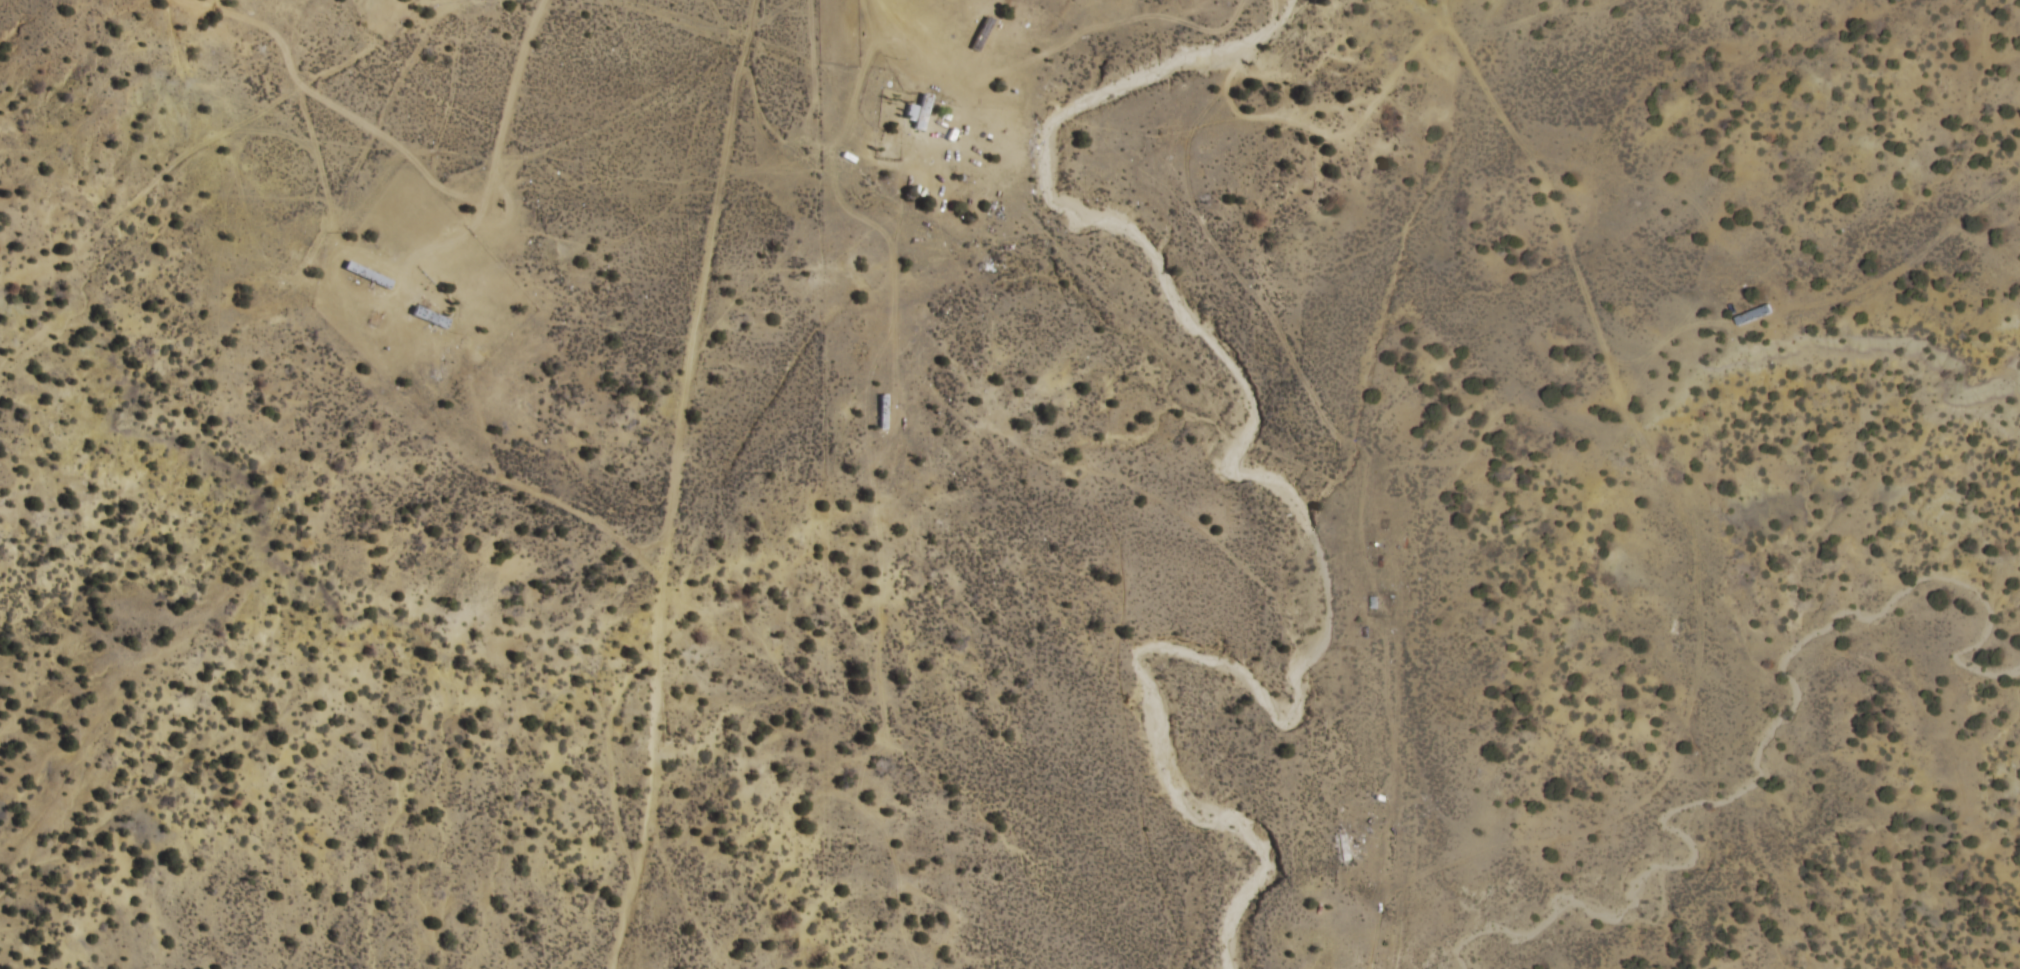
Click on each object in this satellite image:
road: (286, 10)
road: (383, 85)
road: (672, 483)

